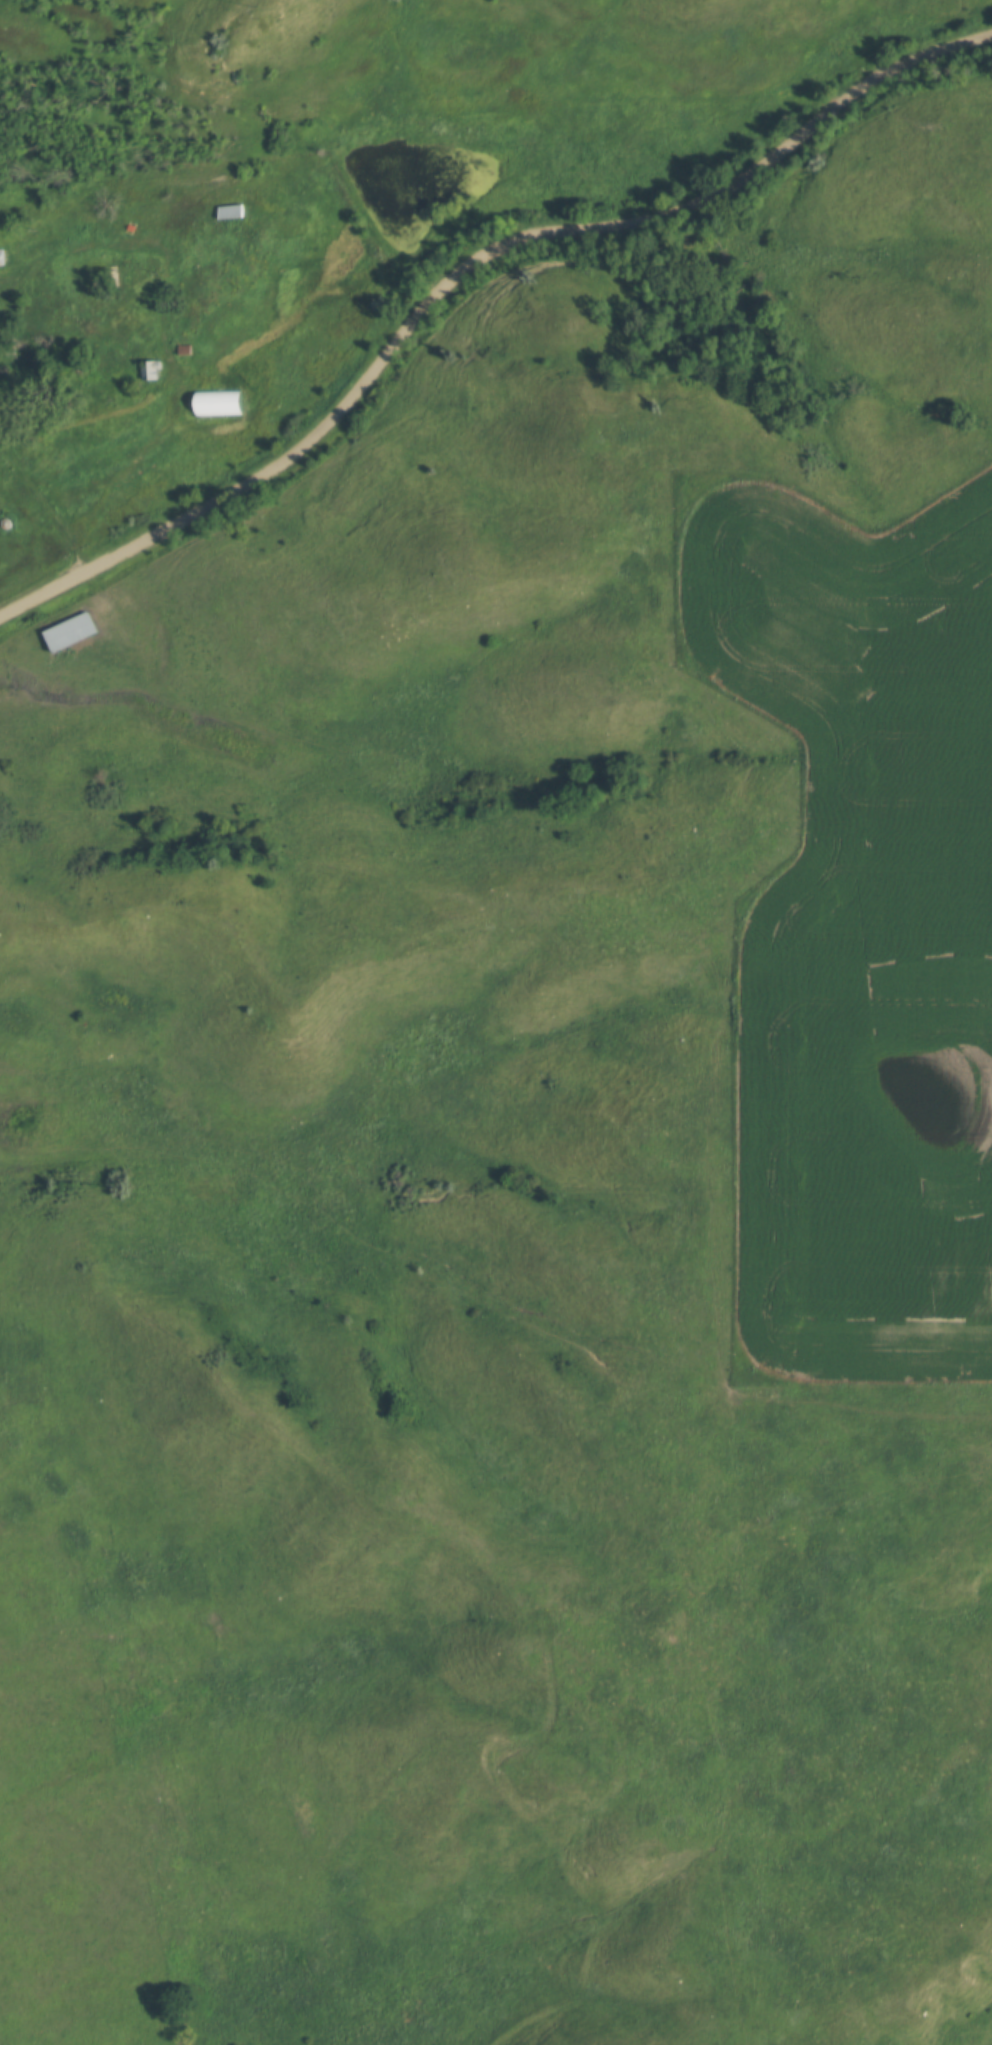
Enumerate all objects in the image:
building: (226, 211)
building: (93, 214)
building: (1, 256)
road: (467, 276)
building: (97, 281)
building: (181, 349)
building: (144, 370)
building: (220, 403)
building: (7, 523)
silo: (7, 523)
building: (65, 632)

